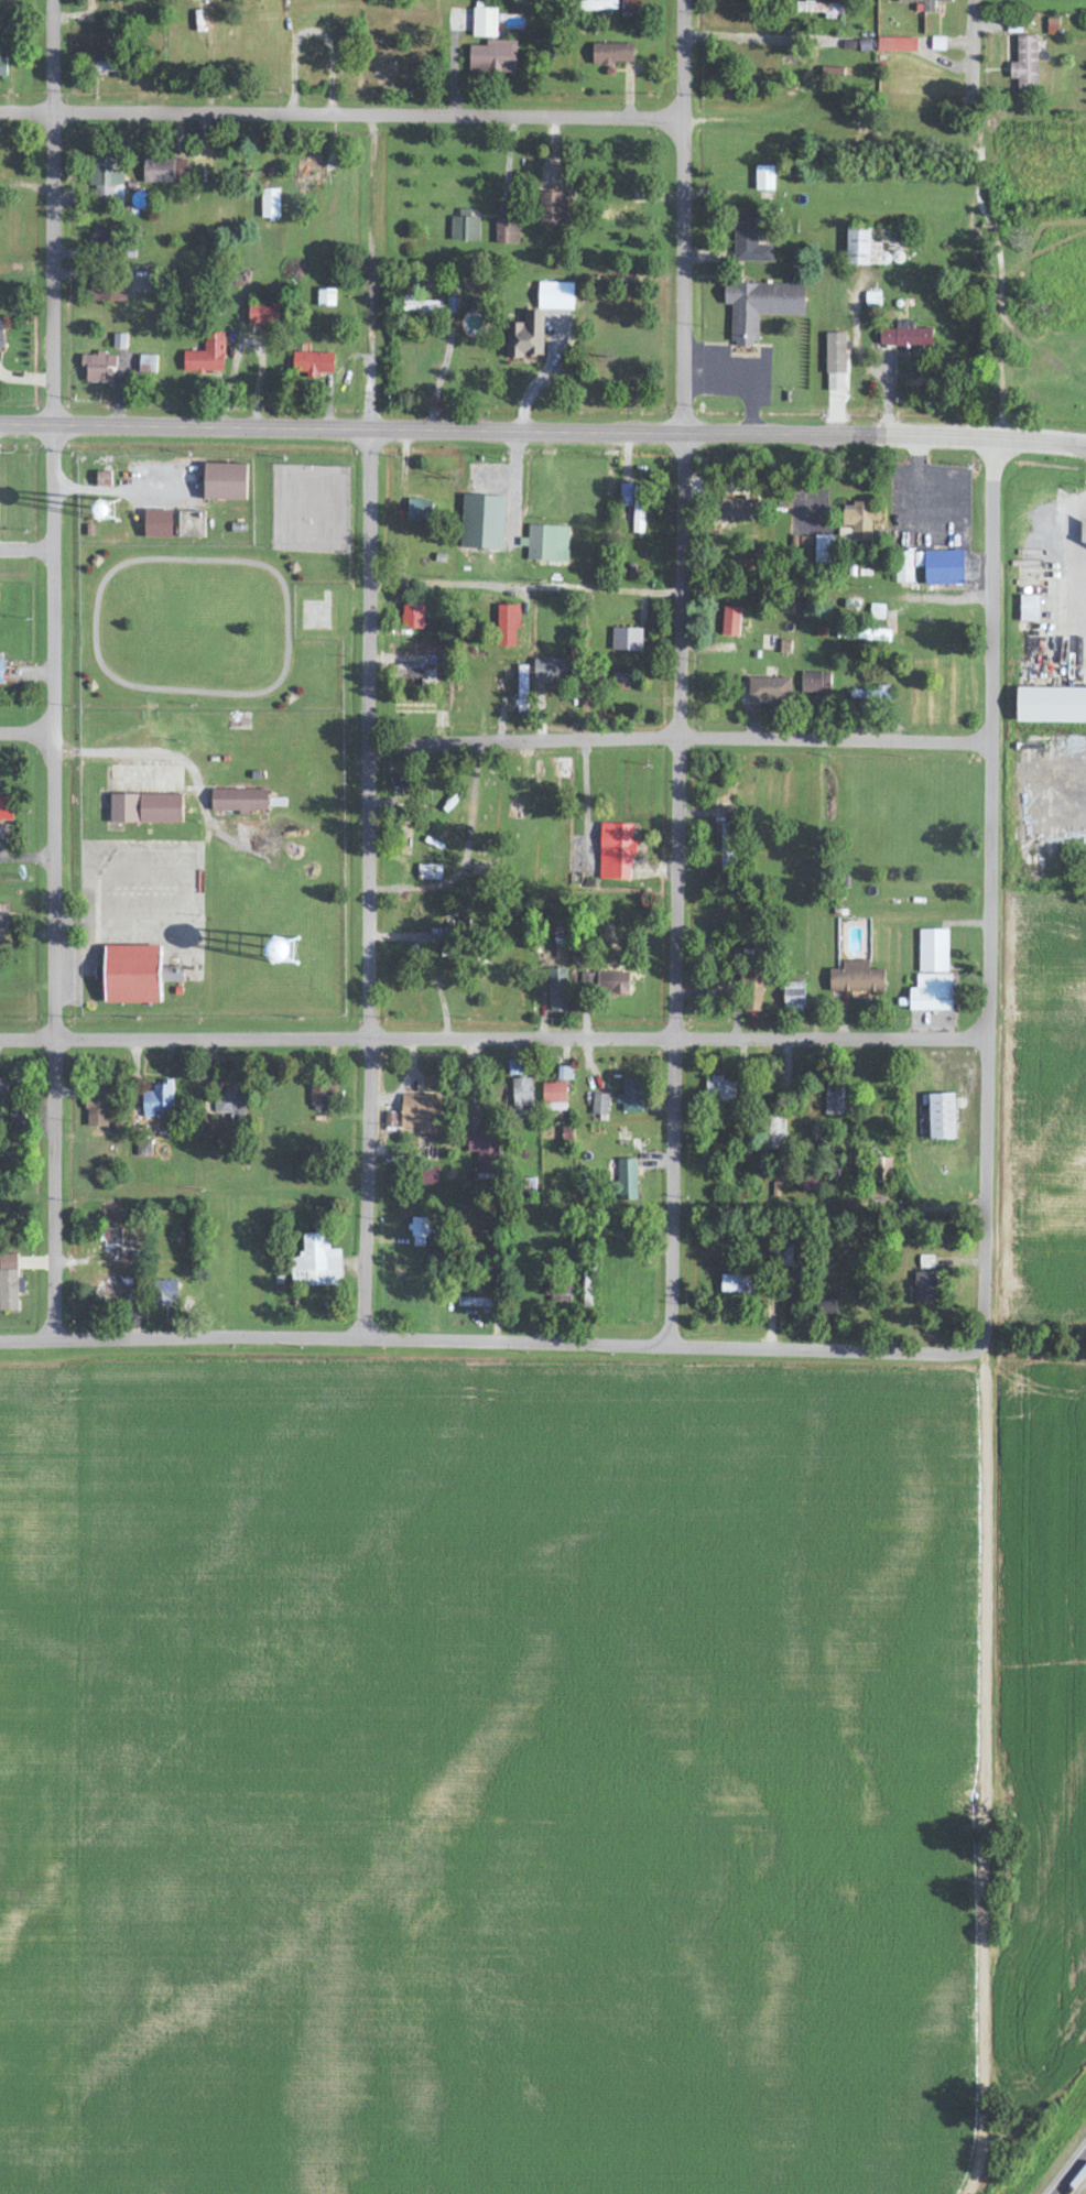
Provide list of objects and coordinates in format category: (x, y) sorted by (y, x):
building: (926, 3)
building: (598, 6)
building: (821, 9)
building: (485, 21)
road: (935, 42)
building: (898, 45)
building: (613, 55)
building: (493, 57)
building: (1025, 65)
building: (3, 67)
building: (106, 67)
road: (1004, 79)
road: (340, 115)
building: (165, 171)
building: (765, 180)
building: (271, 204)
building: (554, 209)
building: (612, 216)
building: (508, 225)
building: (465, 228)
building: (101, 237)
building: (749, 240)
building: (858, 245)
building: (556, 296)
building: (326, 297)
building: (422, 306)
building: (760, 306)
building: (262, 314)
building: (1, 334)
building: (526, 336)
building: (905, 336)
building: (119, 340)
building: (836, 352)
building: (207, 355)
building: (314, 362)
building: (148, 363)
building: (98, 367)
road: (684, 368)
building: (836, 382)
road: (497, 430)
road: (1040, 439)
building: (225, 481)
road: (122, 487)
building: (634, 503)
water tower: (110, 508)
building: (419, 510)
building: (736, 510)
building: (861, 520)
building: (482, 522)
building: (159, 523)
building: (192, 524)
building: (547, 543)
building: (824, 547)
building: (933, 567)
road: (525, 583)
road: (370, 588)
building: (1030, 608)
building: (878, 612)
building: (413, 617)
building: (730, 621)
building: (508, 626)
building: (866, 636)
building: (627, 639)
road: (54, 669)
building: (551, 671)
building: (1, 672)
building: (621, 681)
building: (815, 684)
building: (769, 688)
building: (871, 694)
building: (1051, 705)
road: (28, 734)
road: (680, 737)
building: (240, 800)
building: (6, 808)
building: (145, 808)
road: (203, 808)
road: (595, 823)
road: (518, 832)
building: (726, 844)
building: (616, 851)
building: (430, 872)
building: (3, 914)
water tower: (285, 943)
building: (933, 952)
building: (131, 974)
building: (171, 975)
building: (857, 979)
building: (615, 982)
building: (754, 986)
building: (557, 992)
building: (932, 992)
building: (794, 995)
road: (184, 1036)
road: (678, 1039)
road: (673, 1041)
road: (369, 1045)
building: (514, 1068)
building: (565, 1074)
building: (523, 1090)
building: (719, 1090)
building: (2, 1091)
building: (322, 1096)
building: (554, 1096)
building: (631, 1096)
building: (834, 1098)
building: (158, 1099)
building: (230, 1103)
building: (600, 1106)
building: (98, 1108)
crop: (1044, 1109)
building: (421, 1114)
building: (942, 1117)
building: (773, 1131)
building: (485, 1148)
building: (430, 1176)
building: (627, 1180)
building: (419, 1232)
building: (925, 1262)
building: (316, 1263)
building: (10, 1283)
building: (738, 1284)
building: (924, 1288)
building: (166, 1293)
building: (561, 1296)
building: (475, 1303)
building: (827, 1306)
road: (987, 1316)
road: (28, 1339)
road: (521, 1344)
crop: (26, 1769)
crop: (526, 1782)
road: (1071, 2173)

